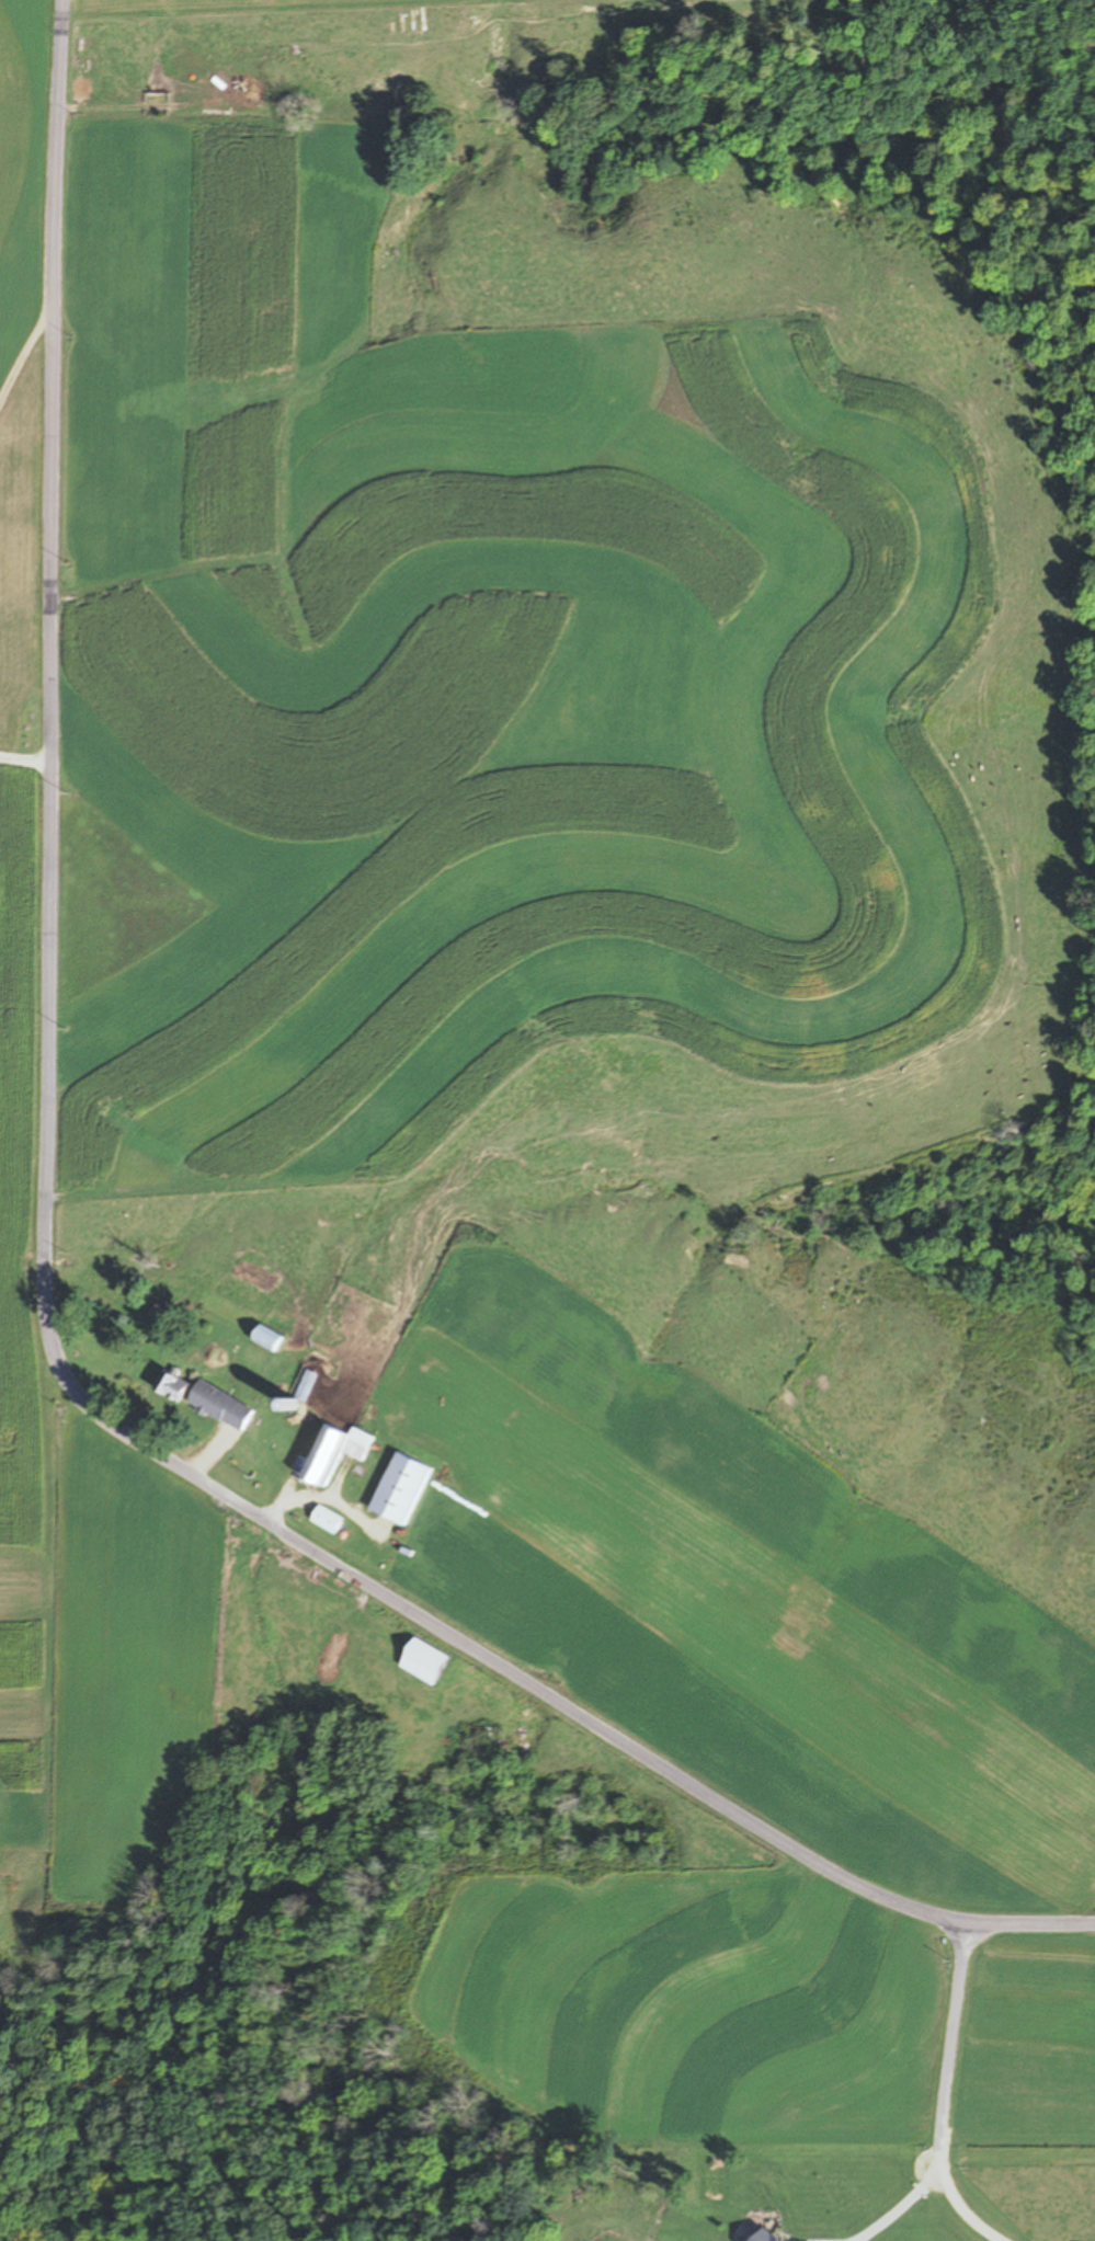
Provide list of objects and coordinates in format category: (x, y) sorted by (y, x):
road: (26, 343)
road: (27, 753)
road: (50, 1282)
building: (172, 1386)
building: (219, 1406)
building: (333, 1454)
building: (401, 1490)
building: (327, 1522)
road: (944, 2095)

